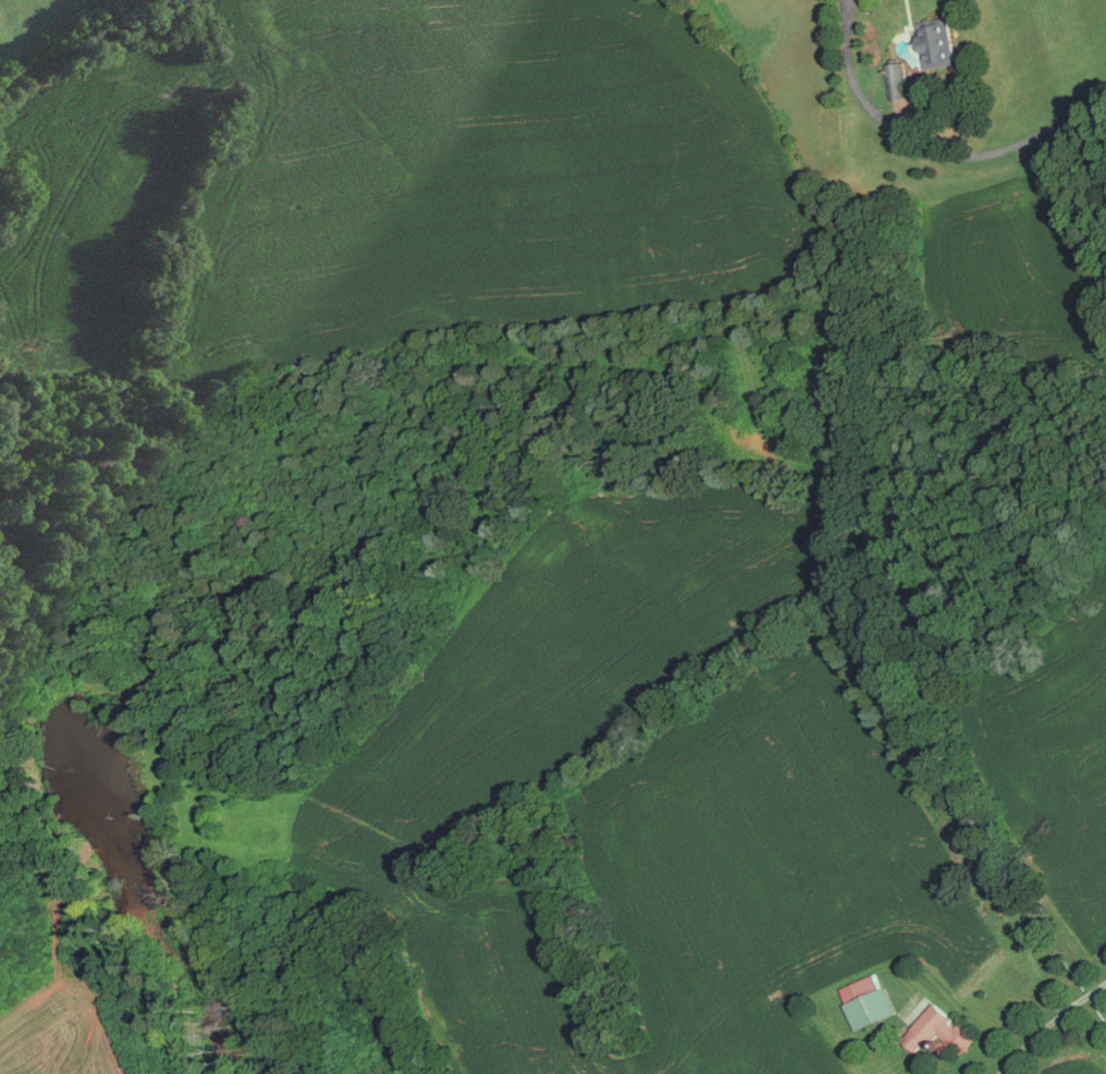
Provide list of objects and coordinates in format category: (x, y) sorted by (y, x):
building: (936, 41)
building: (897, 80)
road: (933, 148)
building: (868, 999)
road: (1047, 1017)
building: (939, 1028)

